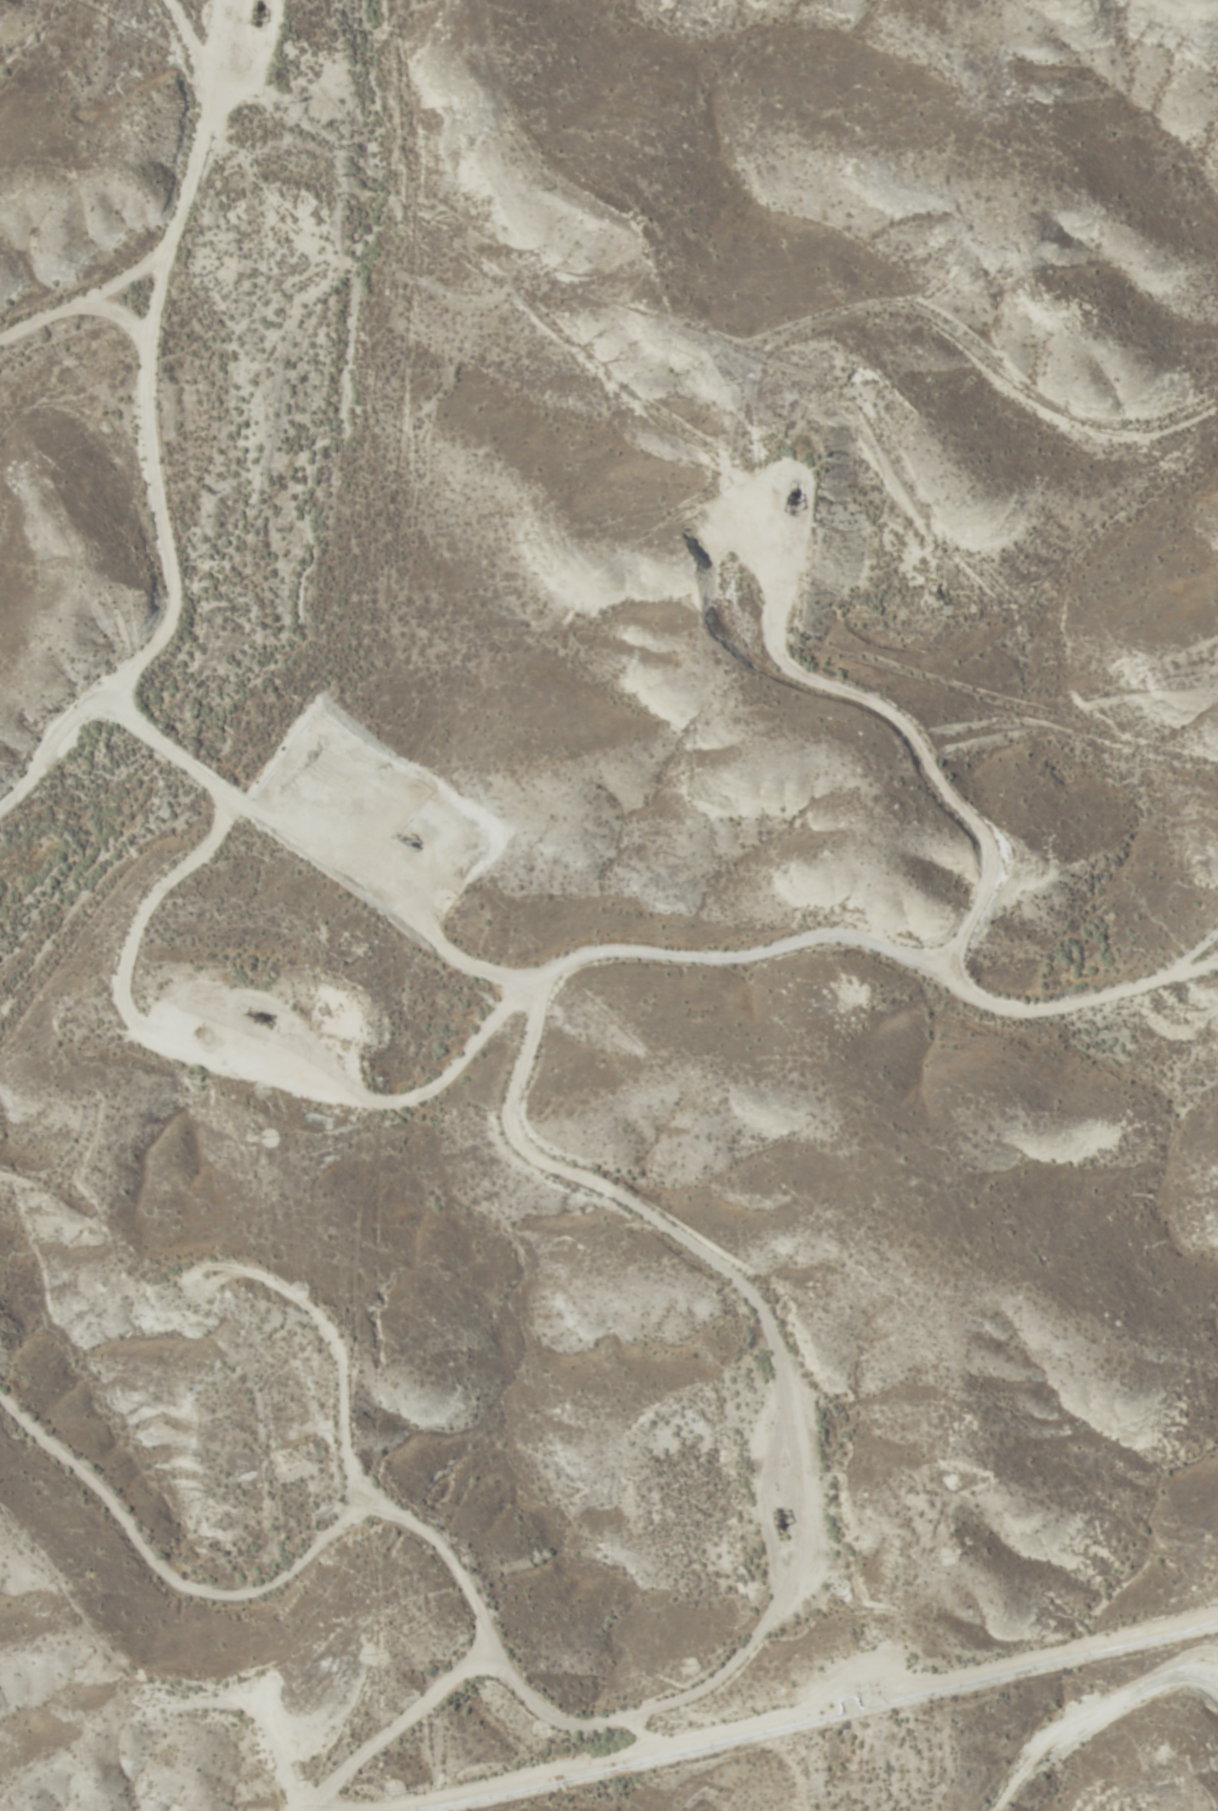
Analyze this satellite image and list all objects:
road: (183, 428)
road: (591, 920)
road: (1179, 940)
road: (1173, 1031)
road: (349, 1491)

